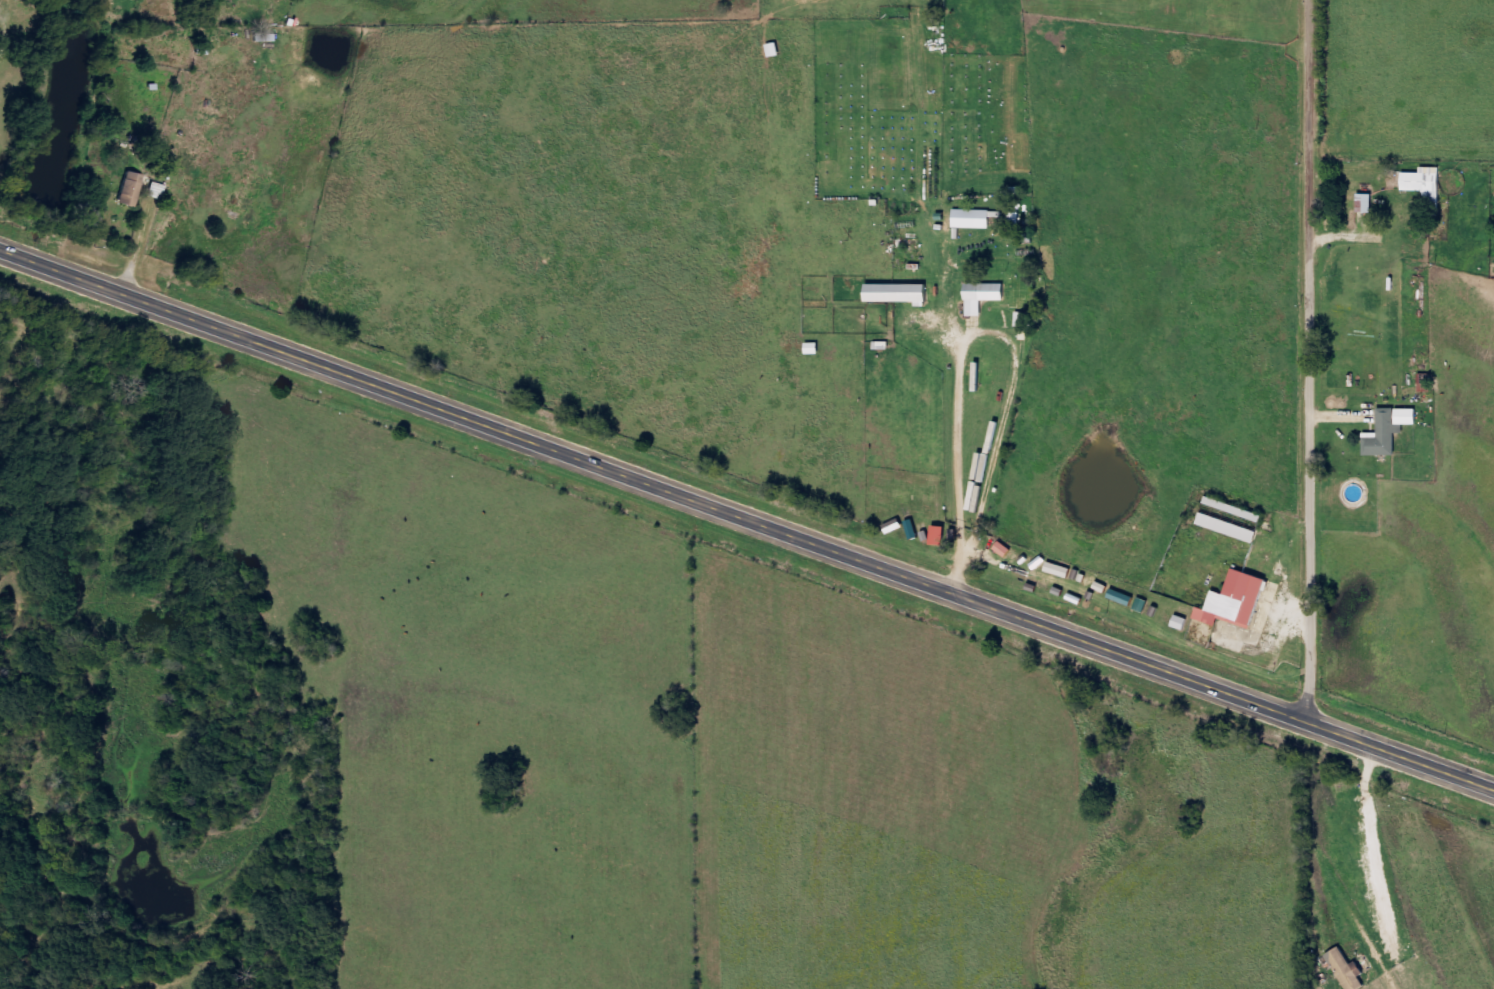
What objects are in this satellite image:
building: (1428, 187)
building: (132, 189)
building: (1368, 204)
building: (974, 220)
building: (901, 294)
building: (985, 297)
road: (1308, 364)
building: (1409, 418)
building: (1386, 436)
road: (746, 525)
building: (1231, 529)
building: (942, 537)
building: (1006, 550)
building: (1124, 598)
building: (1238, 603)
building: (1183, 623)
building: (1350, 970)

